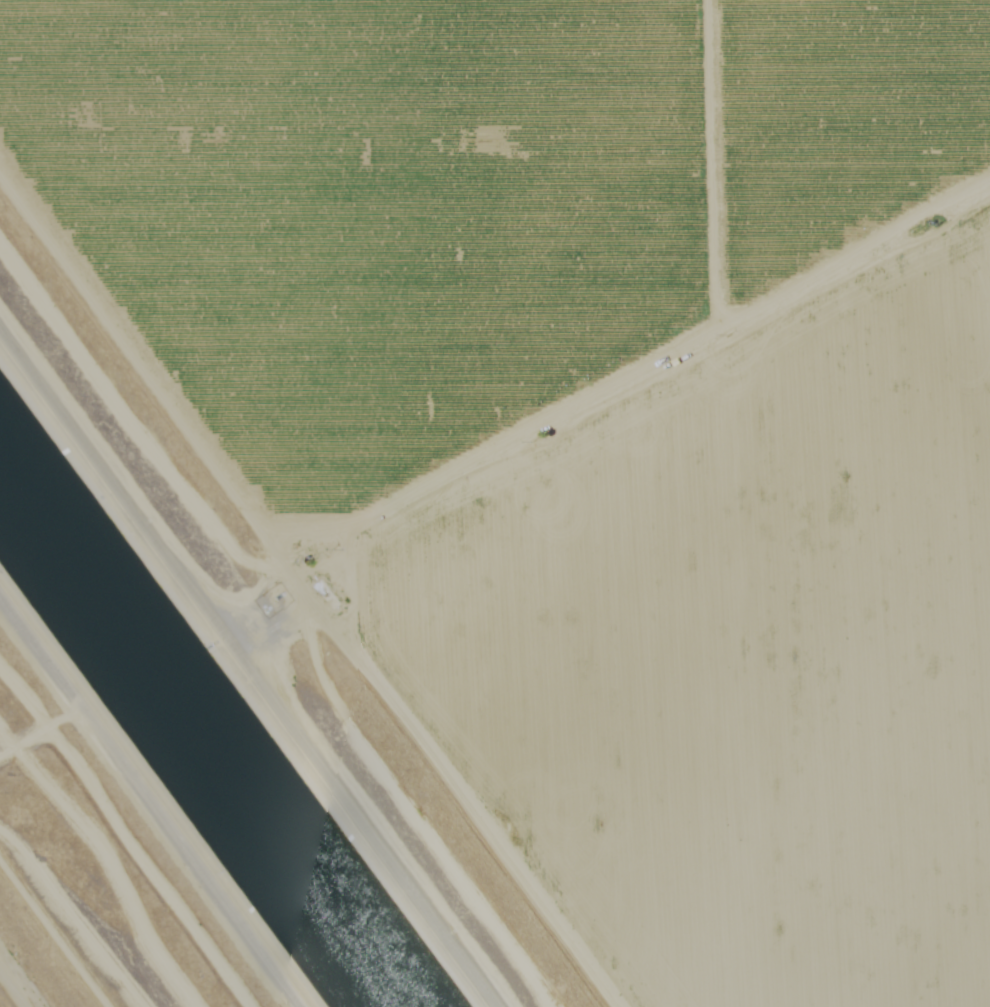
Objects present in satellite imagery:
crop: (627, 413)
road: (31, 963)

